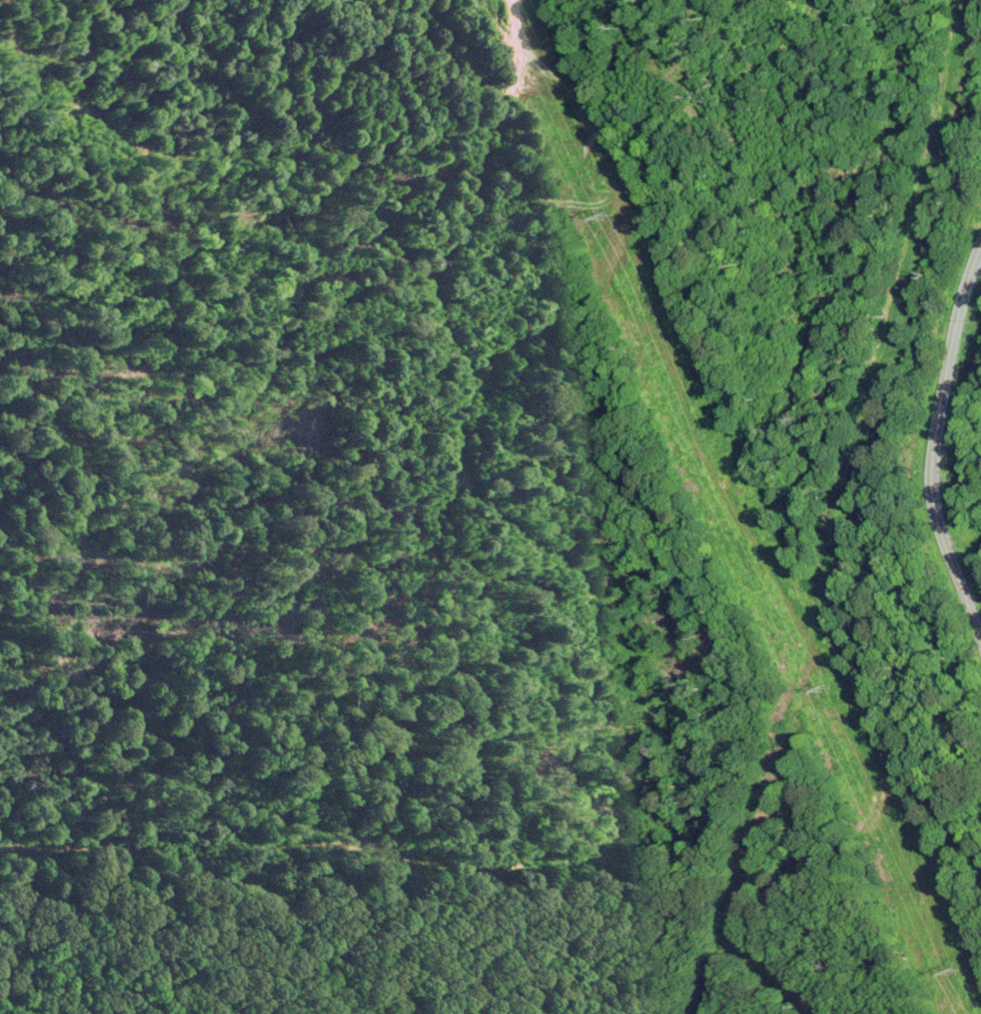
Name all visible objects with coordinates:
road: (958, 418)

